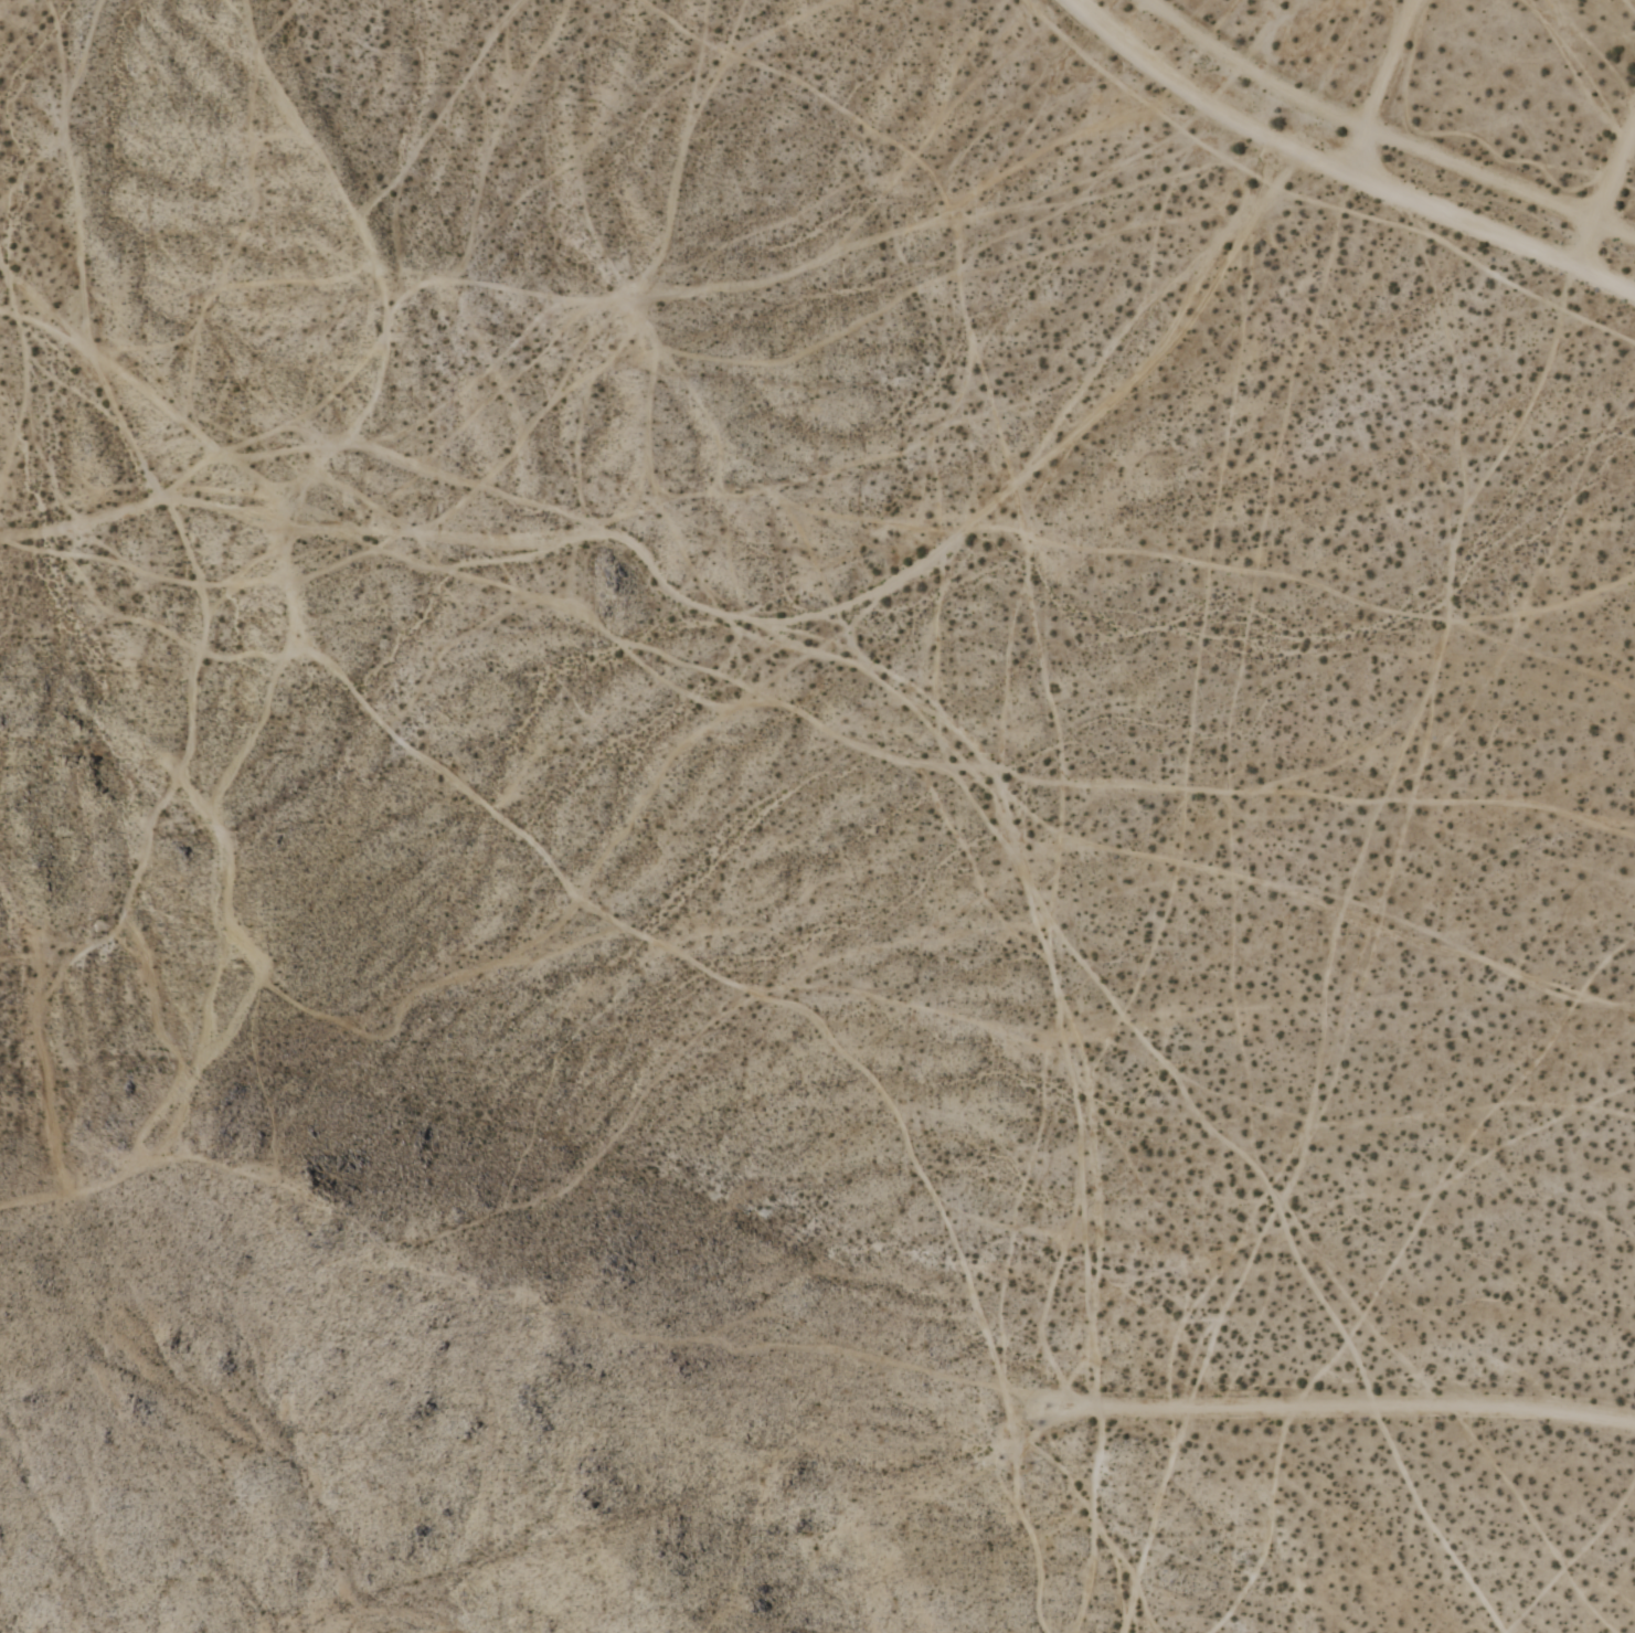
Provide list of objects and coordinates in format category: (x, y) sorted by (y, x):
road: (1381, 92)
crop: (1410, 121)
road: (1339, 174)
road: (1609, 200)
park: (729, 1502)

